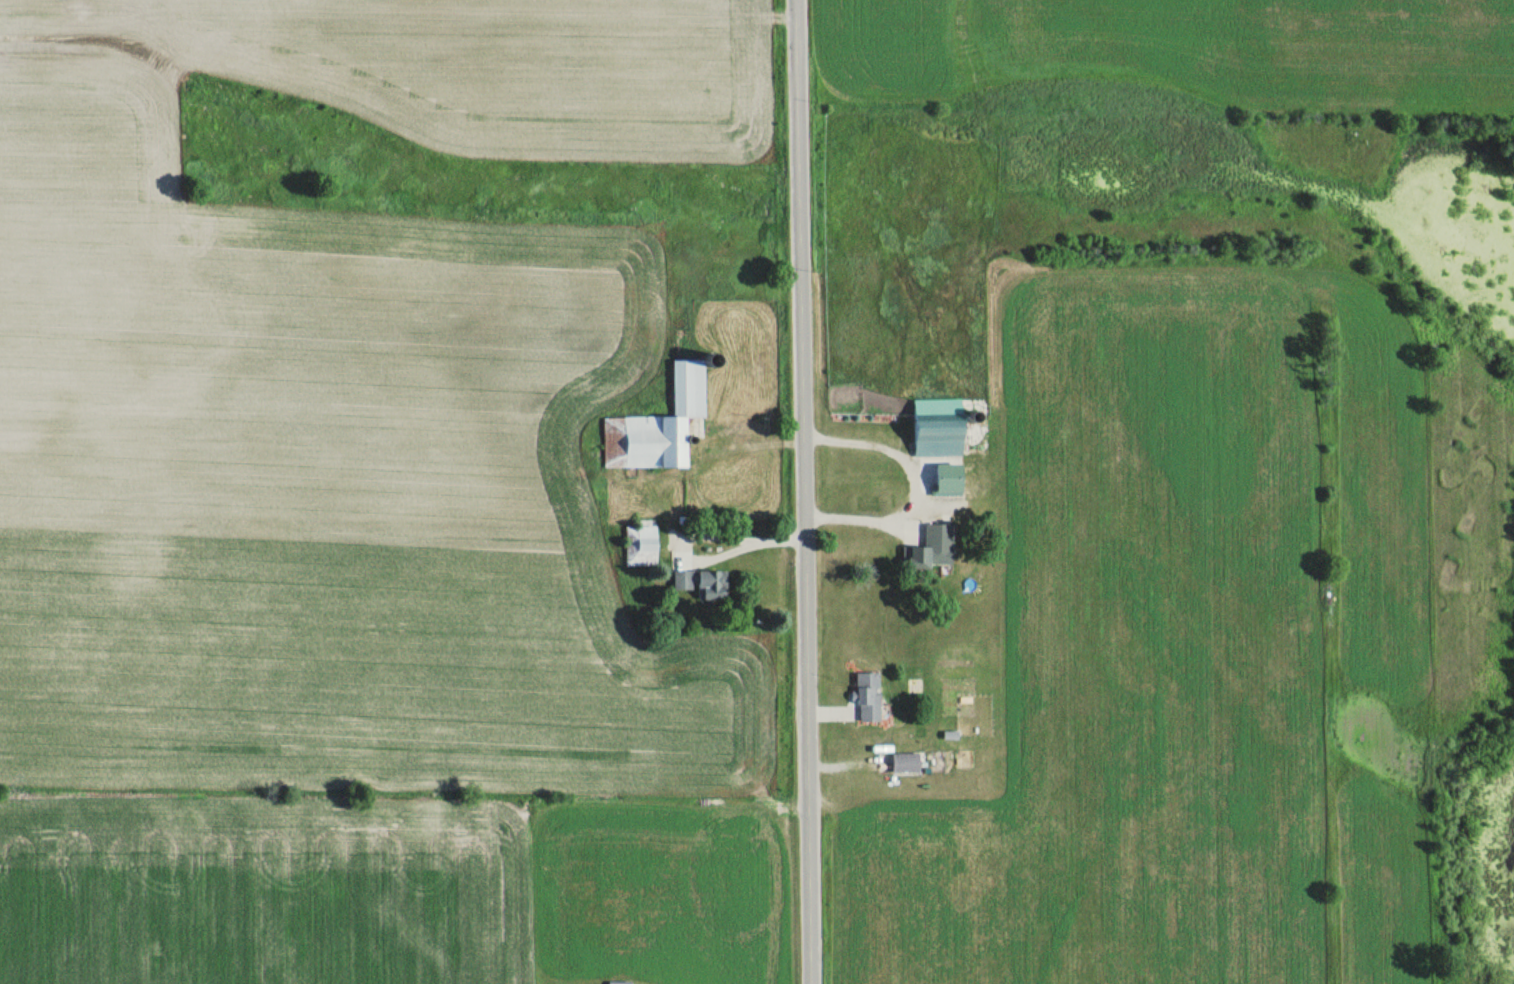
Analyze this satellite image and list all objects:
building: (656, 426)
building: (937, 427)
road: (803, 492)
building: (640, 546)
building: (931, 549)
building: (701, 584)
building: (868, 697)
building: (900, 763)

